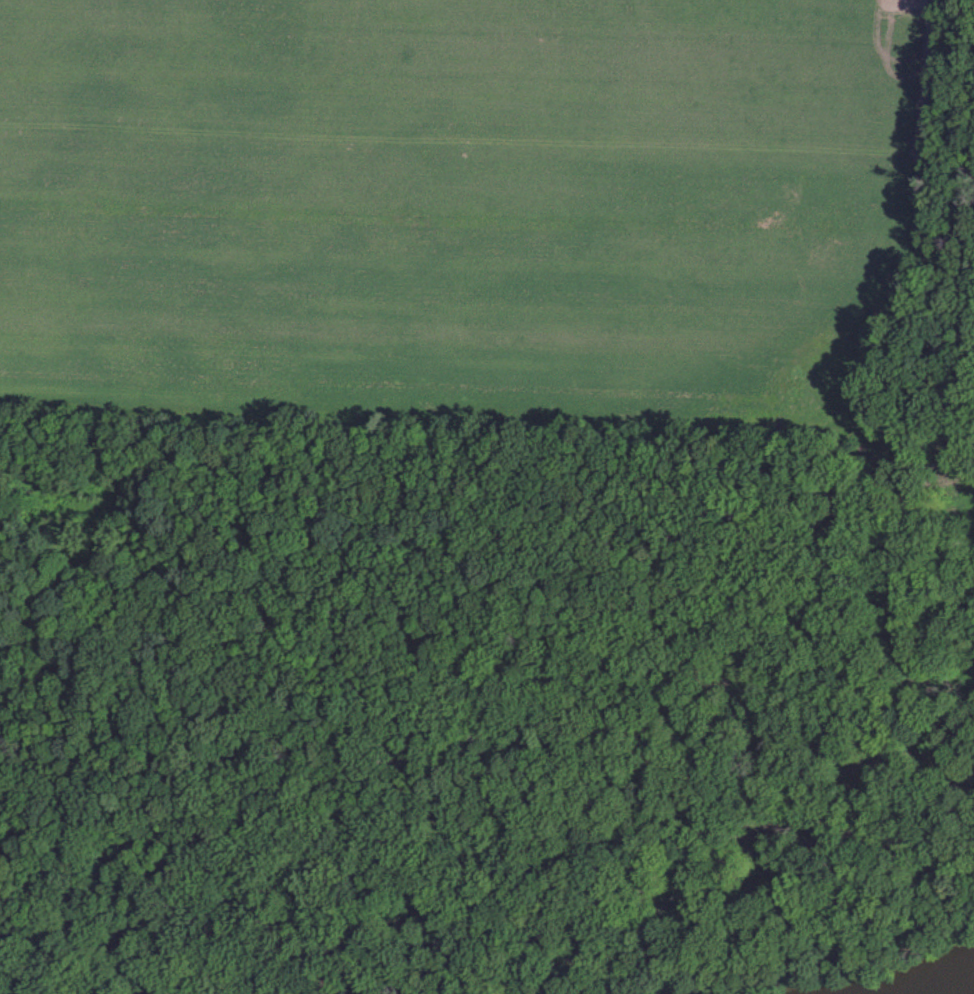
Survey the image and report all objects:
river: (939, 978)

